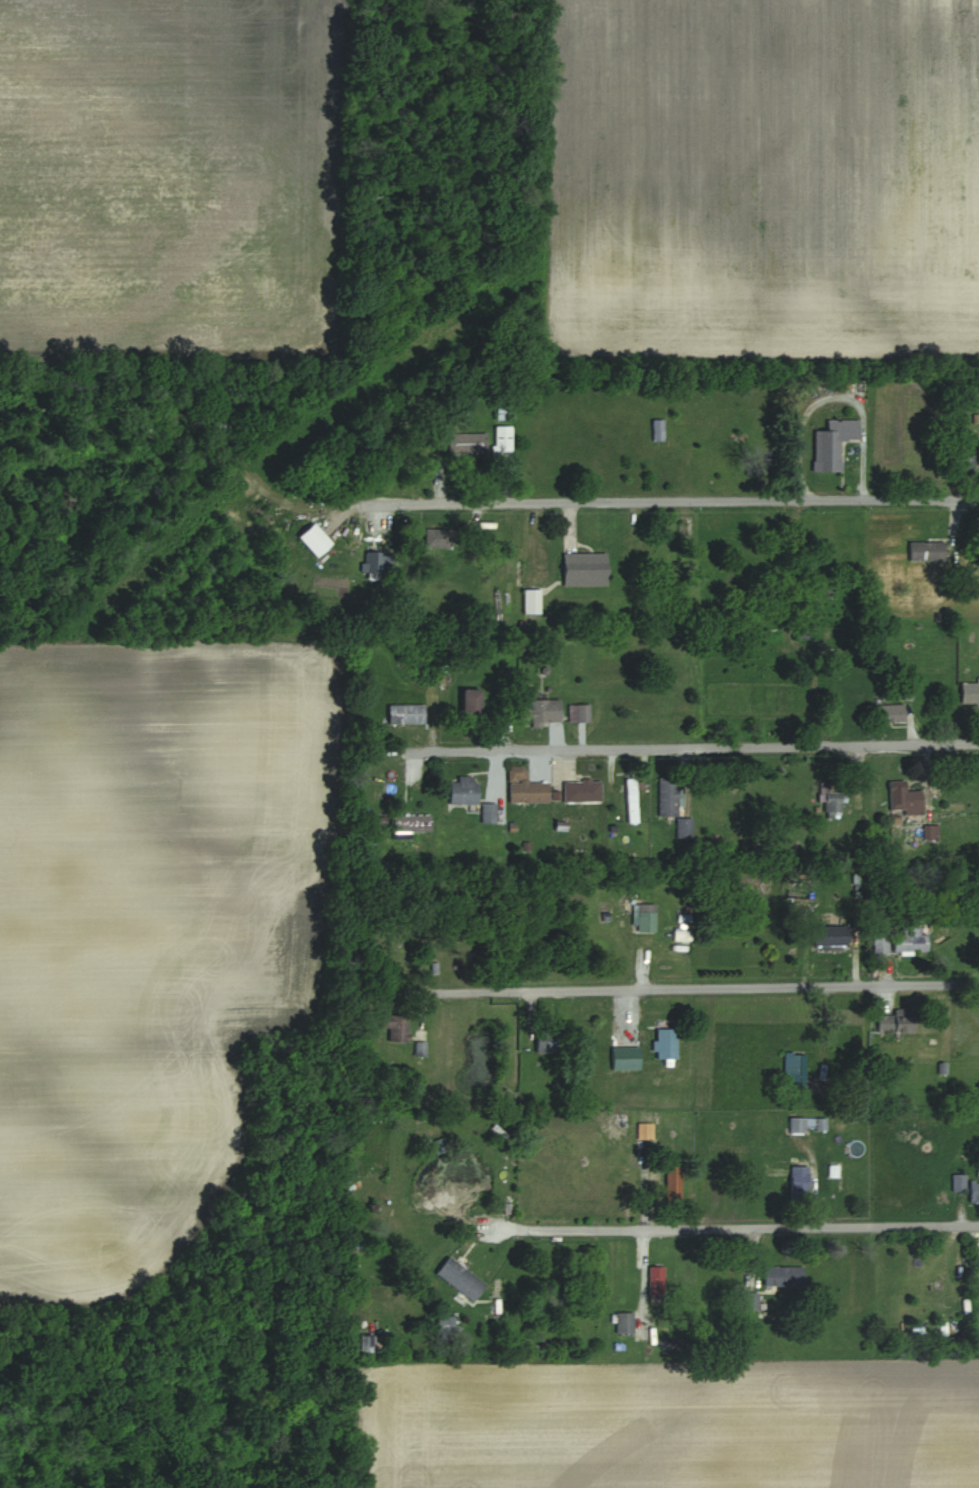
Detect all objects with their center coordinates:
building: (504, 412)
building: (658, 430)
building: (503, 439)
building: (467, 444)
building: (827, 451)
building: (966, 456)
road: (682, 501)
building: (436, 538)
building: (926, 551)
building: (372, 563)
building: (585, 570)
building: (531, 602)
building: (969, 692)
building: (472, 701)
building: (541, 710)
building: (578, 712)
building: (890, 712)
building: (405, 713)
road: (703, 747)
building: (526, 786)
building: (464, 789)
building: (582, 790)
building: (668, 796)
building: (632, 799)
building: (833, 799)
building: (906, 799)
building: (488, 812)
building: (372, 823)
building: (412, 823)
building: (684, 827)
building: (645, 917)
building: (910, 936)
building: (880, 943)
road: (703, 989)
building: (895, 1020)
building: (396, 1026)
building: (549, 1040)
building: (666, 1043)
building: (625, 1058)
building: (794, 1069)
building: (807, 1124)
building: (644, 1131)
building: (958, 1182)
building: (673, 1183)
building: (799, 1183)
building: (974, 1191)
road: (738, 1227)
building: (784, 1275)
building: (460, 1277)
building: (656, 1281)
building: (749, 1300)
building: (624, 1322)
building: (445, 1325)
building: (370, 1343)

